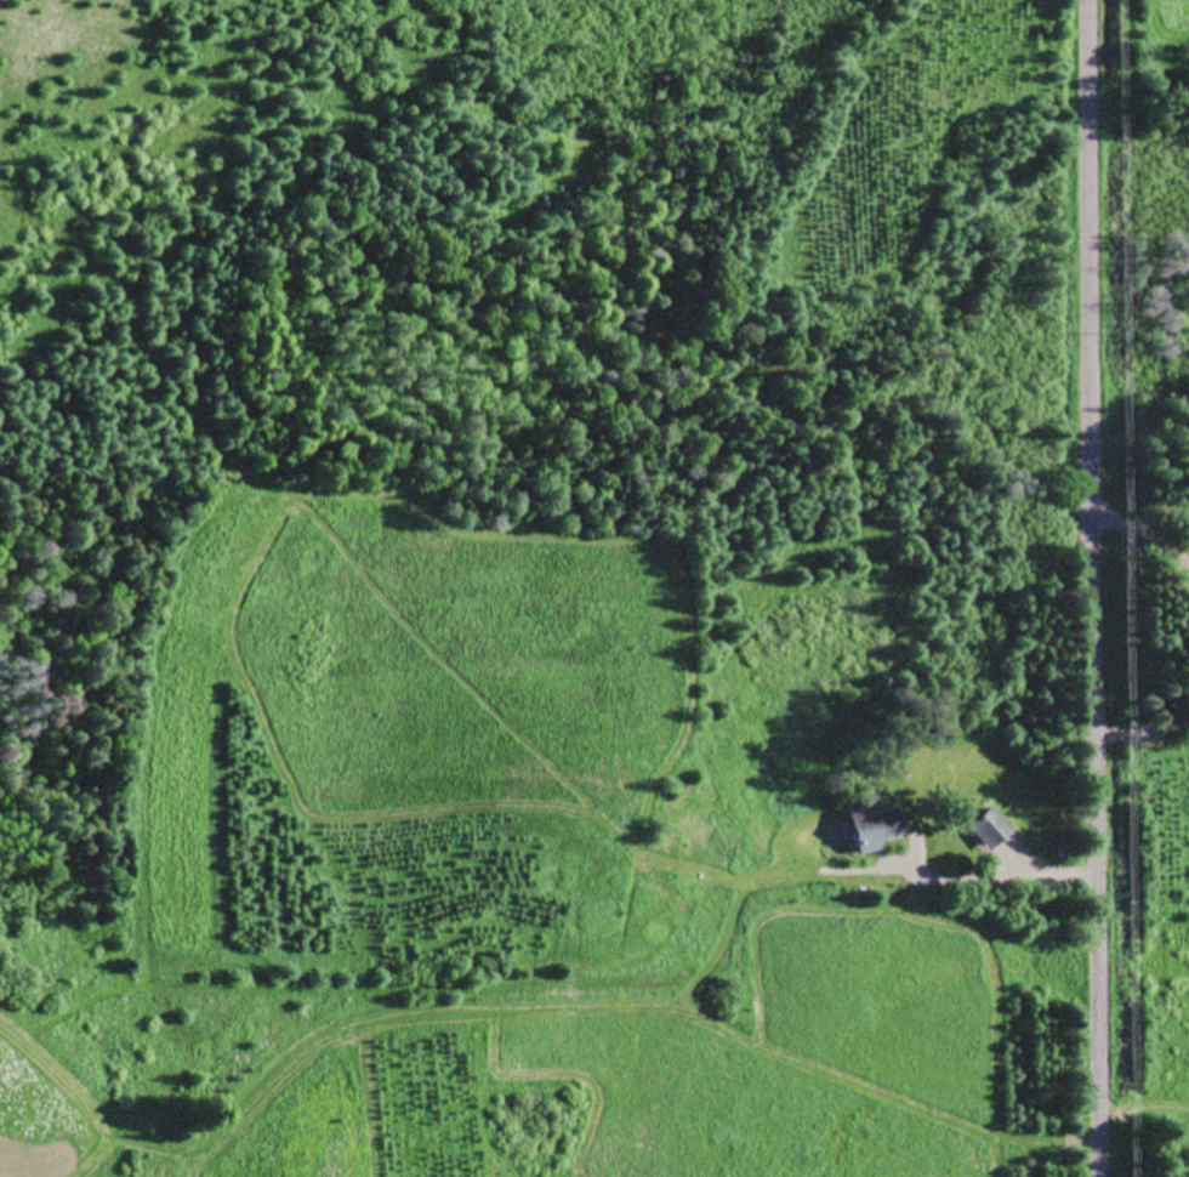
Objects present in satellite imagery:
road: (1173, 18)
road: (1064, 588)
building: (875, 825)
building: (990, 826)

